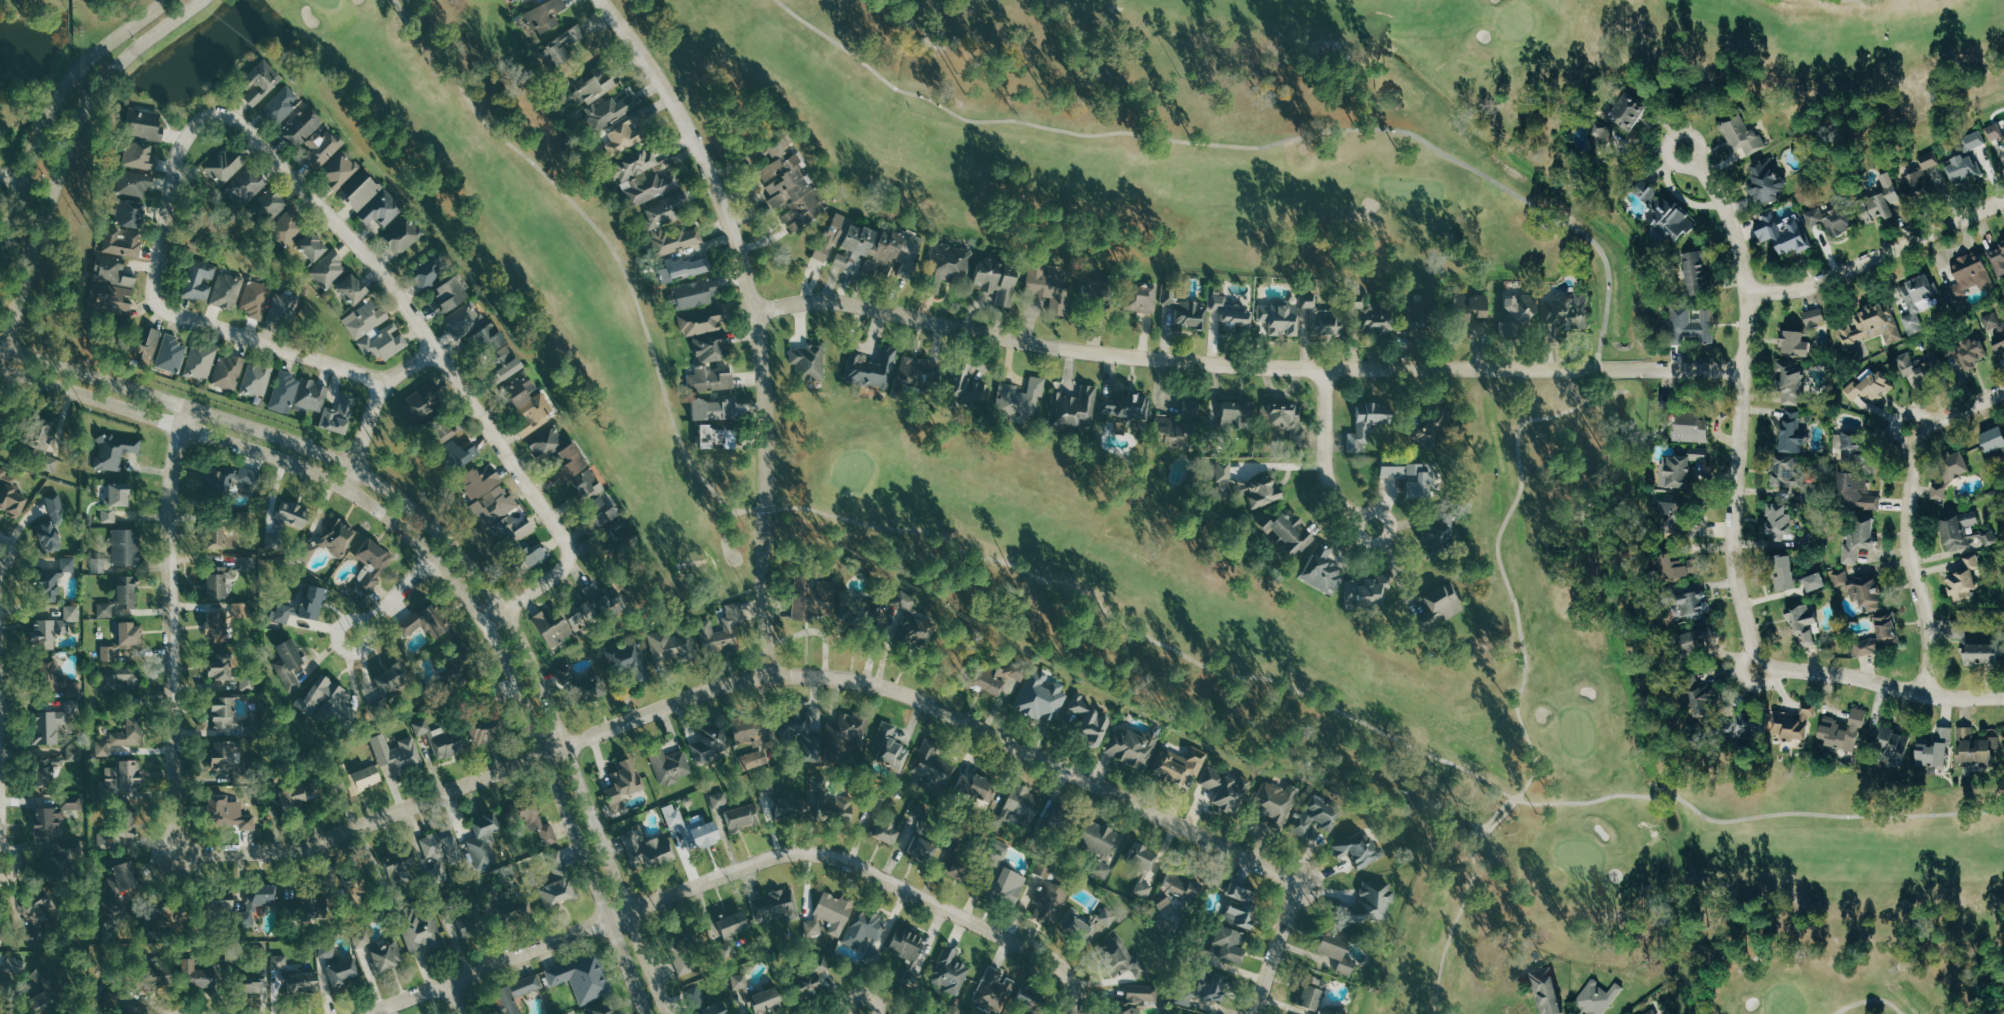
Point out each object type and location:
building: (514, 0)
building: (546, 15)
building: (261, 82)
road: (49, 97)
building: (600, 98)
building: (281, 105)
building: (1631, 111)
building: (144, 124)
building: (626, 133)
building: (1996, 133)
building: (1744, 135)
building: (312, 136)
building: (1602, 137)
building: (1976, 141)
building: (779, 148)
building: (139, 155)
road: (66, 160)
building: (634, 164)
building: (226, 165)
building: (1964, 168)
building: (341, 170)
road: (174, 171)
building: (1922, 176)
building: (1767, 180)
building: (134, 183)
building: (249, 184)
building: (650, 187)
building: (793, 192)
building: (364, 193)
building: (1883, 201)
building: (270, 205)
building: (382, 209)
building: (129, 213)
building: (1670, 213)
building: (1832, 219)
building: (287, 226)
building: (671, 226)
building: (1784, 231)
building: (404, 235)
building: (2003, 239)
building: (122, 241)
building: (847, 242)
building: (312, 245)
building: (895, 253)
road: (1878, 256)
building: (1998, 260)
building: (949, 264)
building: (330, 268)
building: (684, 268)
building: (428, 272)
building: (1699, 272)
building: (1970, 275)
building: (998, 279)
building: (200, 280)
building: (113, 286)
building: (1050, 287)
building: (353, 289)
building: (1097, 290)
building: (227, 291)
building: (694, 293)
building: (449, 296)
building: (256, 297)
building: (1140, 299)
building: (1309, 300)
building: (1917, 301)
building: (1218, 302)
building: (1473, 303)
building: (283, 307)
building: (1186, 311)
building: (1373, 313)
building: (1816, 316)
building: (1236, 317)
road: (755, 318)
building: (1281, 319)
building: (701, 321)
building: (463, 322)
building: (1328, 322)
building: (1694, 324)
building: (1869, 327)
building: (1412, 328)
building: (1995, 329)
building: (375, 331)
building: (489, 340)
building: (1796, 343)
road: (266, 344)
building: (146, 347)
building: (712, 347)
building: (1973, 352)
building: (172, 354)
building: (502, 356)
building: (201, 361)
building: (809, 362)
road: (1245, 365)
building: (1922, 366)
building: (876, 368)
building: (508, 370)
building: (228, 372)
building: (917, 372)
building: (257, 379)
road: (454, 379)
building: (710, 379)
building: (1791, 380)
building: (966, 387)
building: (1873, 387)
building: (521, 390)
building: (285, 392)
building: (311, 396)
building: (1020, 399)
building: (419, 405)
road: (374, 406)
building: (1073, 408)
building: (714, 409)
building: (1125, 409)
road: (1739, 411)
building: (535, 413)
building: (1237, 413)
building: (339, 415)
building: (1287, 421)
building: (1369, 422)
building: (1183, 424)
building: (1693, 427)
building: (443, 432)
building: (1795, 433)
building: (1428, 434)
building: (717, 437)
building: (1996, 441)
building: (1851, 443)
road: (229, 444)
building: (44, 446)
building: (115, 451)
building: (455, 455)
building: (564, 463)
road: (1326, 464)
building: (1952, 466)
building: (1681, 467)
building: (1785, 473)
building: (230, 480)
building: (1410, 480)
building: (1248, 487)
building: (1853, 493)
building: (10, 494)
building: (116, 499)
building: (494, 508)
building: (56, 509)
building: (293, 513)
building: (595, 516)
road: (1914, 519)
building: (1677, 520)
building: (1778, 522)
building: (1956, 530)
building: (1287, 534)
building: (48, 536)
building: (339, 537)
building: (1856, 537)
building: (614, 538)
building: (1986, 539)
building: (1435, 542)
building: (126, 547)
building: (306, 552)
building: (1680, 553)
road: (458, 554)
building: (529, 559)
building: (371, 566)
building: (1677, 567)
building: (1320, 571)
building: (1790, 579)
building: (53, 580)
building: (219, 580)
building: (1963, 581)
building: (1861, 590)
building: (883, 591)
building: (127, 592)
building: (1364, 593)
building: (800, 598)
building: (602, 600)
road: (401, 601)
building: (313, 602)
building: (1435, 605)
building: (1692, 606)
building: (105, 610)
building: (240, 610)
road: (497, 620)
building: (421, 623)
building: (567, 623)
building: (910, 625)
building: (1801, 626)
building: (217, 627)
building: (52, 628)
building: (704, 628)
road: (173, 629)
road: (335, 633)
building: (130, 635)
building: (1878, 637)
building: (1692, 643)
building: (1972, 648)
building: (671, 649)
building: (110, 653)
building: (458, 658)
building: (626, 661)
building: (289, 662)
building: (220, 666)
road: (1524, 672)
building: (993, 676)
building: (390, 677)
road: (744, 679)
building: (55, 680)
building: (121, 680)
building: (249, 683)
road: (1880, 685)
building: (587, 689)
building: (1039, 698)
building: (1700, 698)
building: (326, 700)
building: (223, 712)
building: (485, 719)
building: (54, 722)
building: (1088, 723)
building: (1743, 725)
building: (1791, 725)
building: (798, 729)
building: (850, 729)
building: (749, 730)
building: (1842, 731)
building: (123, 735)
building: (441, 739)
building: (708, 744)
building: (1889, 747)
building: (1129, 748)
building: (1973, 749)
building: (886, 750)
building: (1934, 751)
building: (397, 752)
building: (225, 753)
building: (754, 759)
building: (667, 765)
building: (1176, 765)
building: (931, 767)
building: (43, 775)
building: (123, 778)
building: (364, 779)
road: (550, 781)
building: (620, 785)
building: (766, 787)
building: (973, 787)
building: (1223, 790)
building: (299, 793)
building: (719, 800)
building: (72, 802)
building: (873, 803)
building: (1273, 803)
building: (1017, 807)
building: (788, 809)
building: (840, 810)
building: (227, 814)
building: (670, 816)
building: (1313, 817)
road: (1755, 817)
building: (528, 818)
building: (739, 818)
building: (46, 822)
building: (1061, 823)
building: (881, 831)
building: (118, 832)
building: (701, 836)
building: (481, 841)
building: (1097, 845)
building: (916, 847)
building: (643, 849)
building: (1356, 850)
building: (438, 856)
building: (956, 863)
building: (403, 867)
building: (1043, 870)
building: (1138, 870)
road: (723, 877)
building: (124, 878)
building: (556, 882)
building: (1002, 885)
building: (1174, 889)
building: (222, 901)
building: (257, 901)
building: (1046, 903)
building: (772, 905)
building: (1237, 905)
building: (1367, 905)
building: (509, 909)
building: (829, 914)
building: (41, 918)
building: (1104, 918)
building: (730, 925)
building: (468, 926)
building: (862, 927)
building: (1075, 929)
building: (419, 931)
building: (362, 940)
building: (904, 945)
building: (1227, 945)
road: (1276, 947)
building: (679, 948)
building: (1332, 949)
building: (386, 953)
building: (328, 955)
building: (1118, 959)
building: (279, 962)
building: (11, 972)
building: (342, 972)
building: (947, 973)
building: (197, 976)
building: (909, 976)
building: (160, 977)
building: (580, 978)
building: (255, 980)
building: (808, 980)
building: (302, 982)
building: (1202, 987)
building: (44, 991)
building: (989, 991)
building: (1544, 991)
building: (1309, 994)
building: (511, 995)
road: (1076, 995)
road: (463, 997)
building: (696, 997)
building: (756, 997)
building: (1598, 997)
road: (1869, 999)
building: (1027, 1000)
building: (1132, 1000)
building: (711, 1009)
building: (600, 1010)
road: (863, 1012)
building: (119, 1013)
building: (926, 1013)

